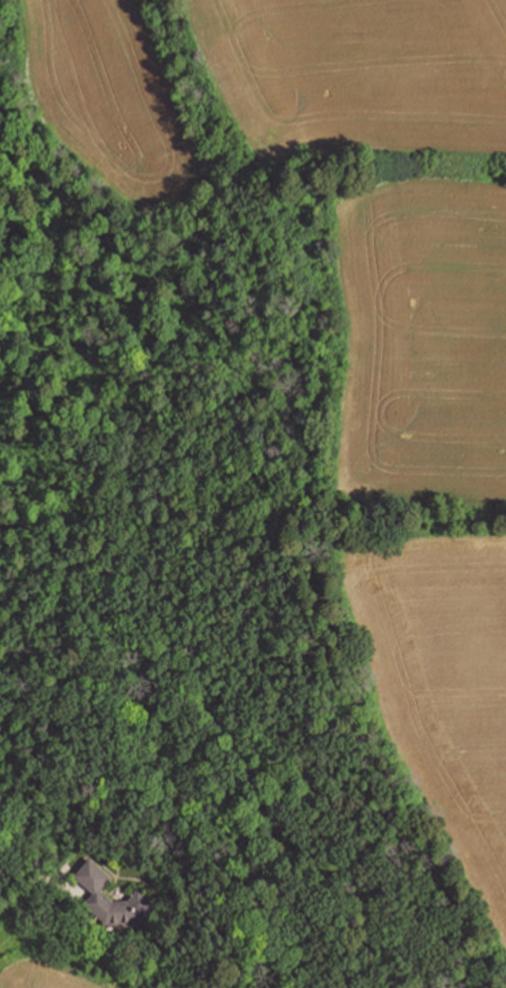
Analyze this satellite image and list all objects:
road: (28, 870)
building: (113, 902)

